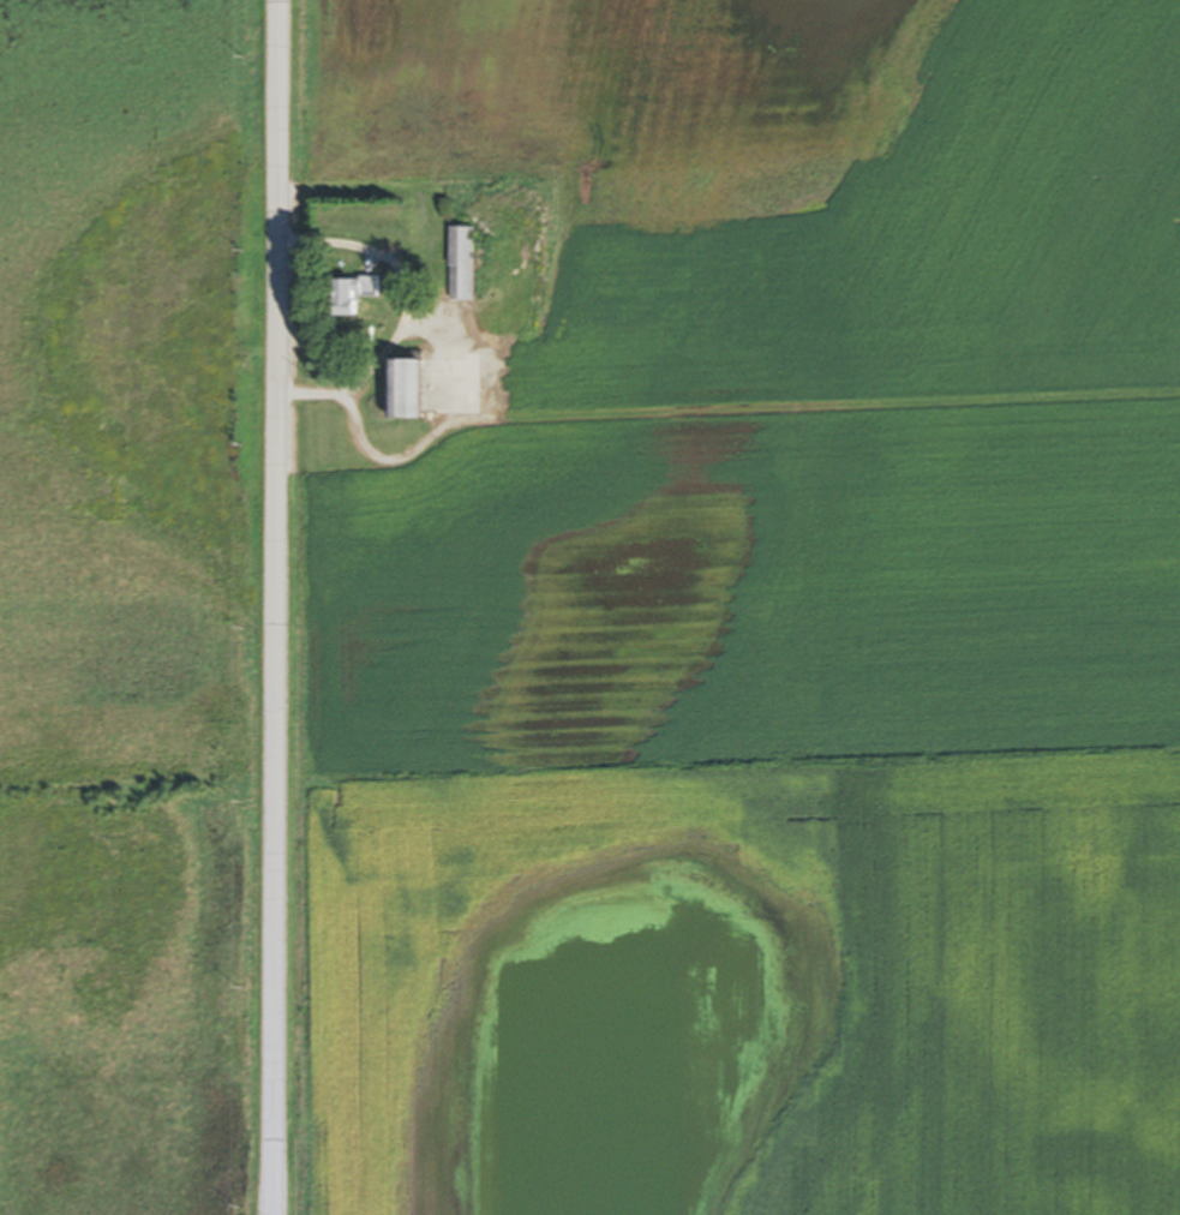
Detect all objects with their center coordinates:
building: (461, 267)
building: (357, 297)
road: (400, 306)
building: (408, 393)
road: (277, 606)

